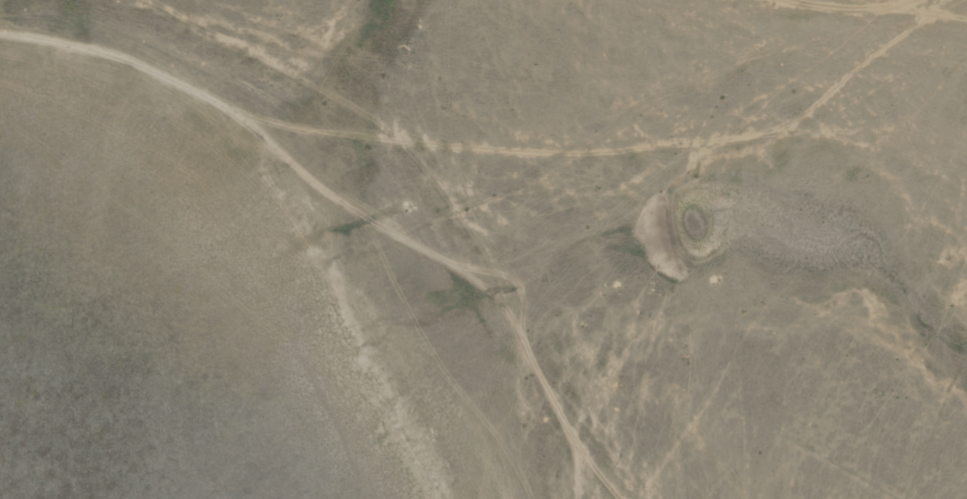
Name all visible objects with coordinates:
road: (572, 55)

